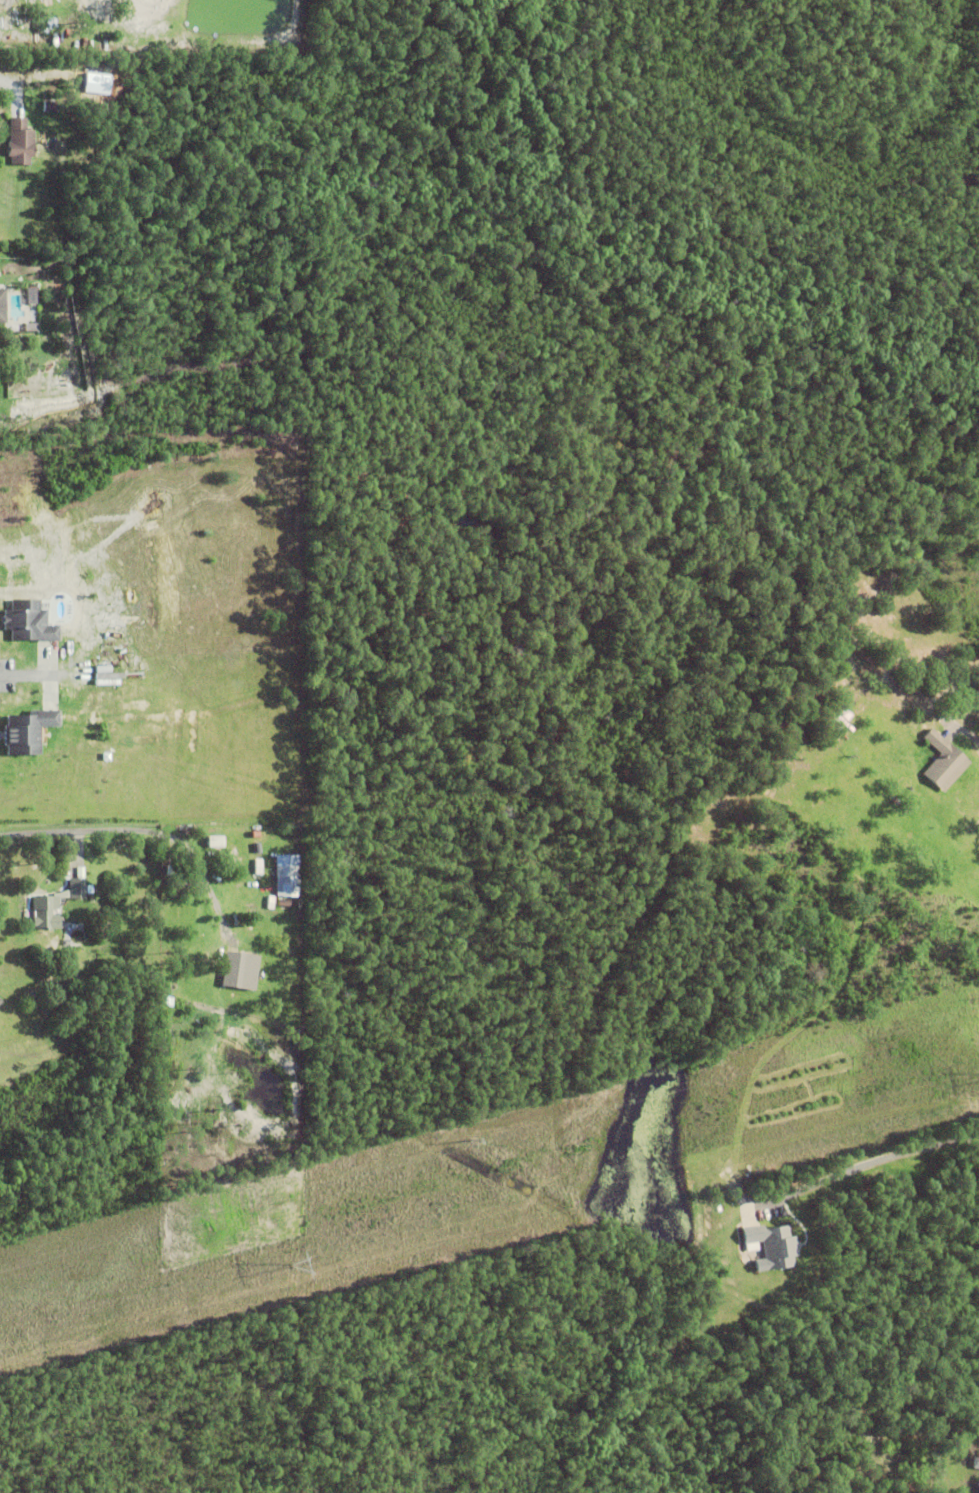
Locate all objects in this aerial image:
road: (11, 88)
building: (50, 107)
building: (20, 143)
building: (1, 316)
building: (31, 621)
road: (25, 674)
building: (835, 713)
building: (31, 730)
building: (943, 759)
building: (904, 770)
building: (893, 798)
road: (132, 829)
building: (288, 873)
building: (55, 902)
building: (239, 967)
building: (0, 999)
road: (862, 1166)
building: (773, 1246)
power tower: (287, 1265)
building: (877, 1458)
building: (976, 1462)
building: (857, 1472)

